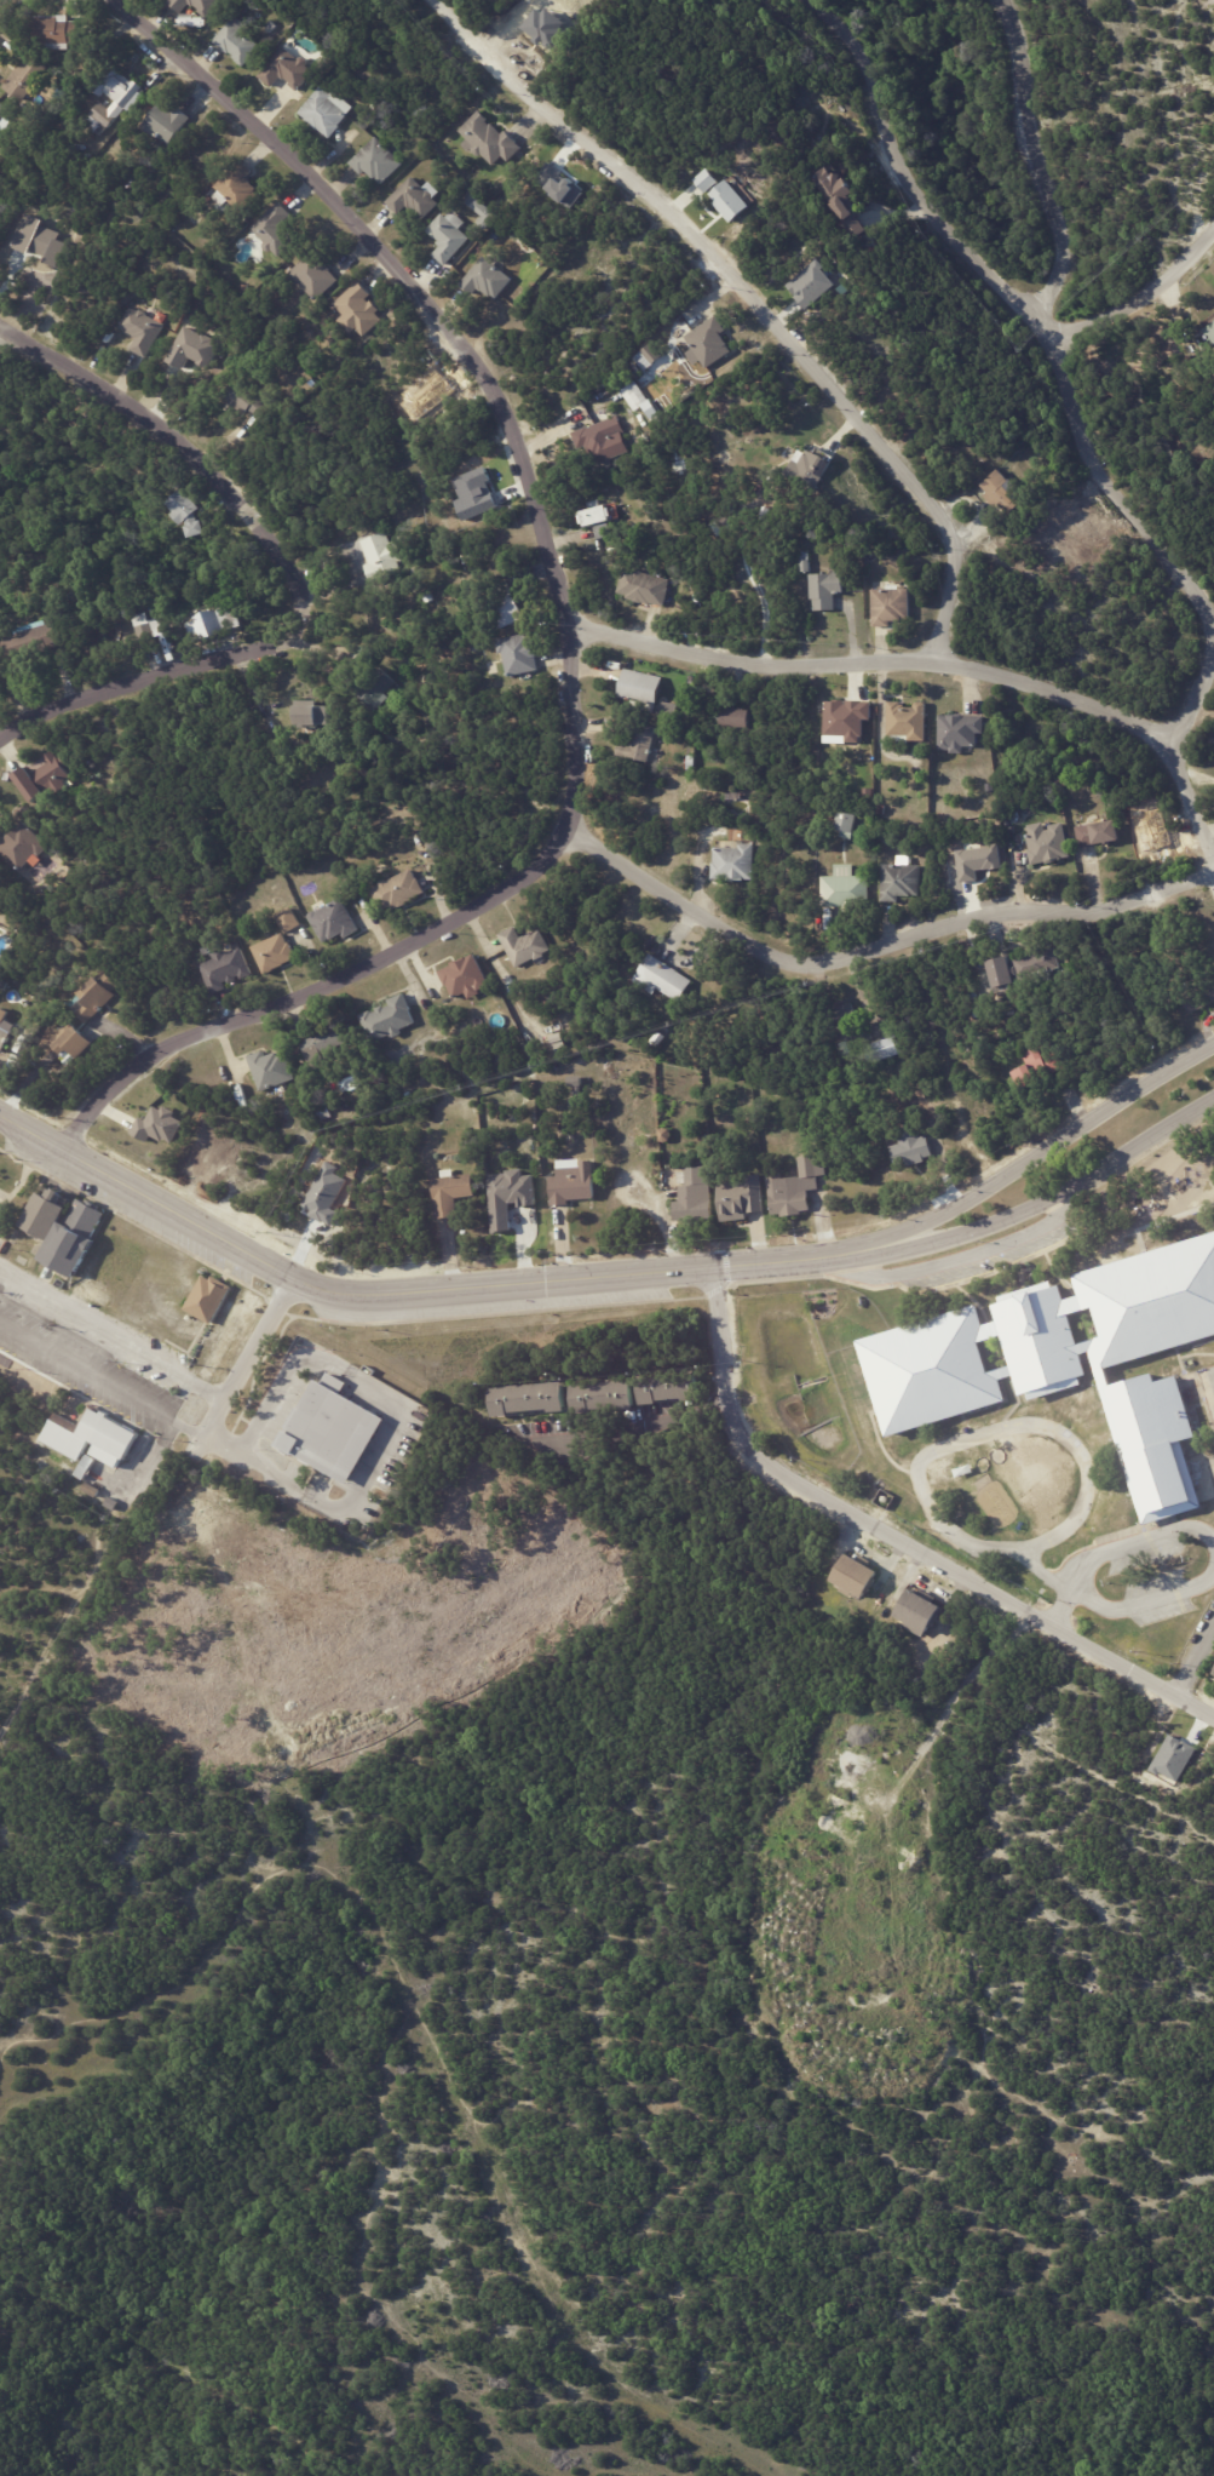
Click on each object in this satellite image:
building: (199, 5)
road: (4, 6)
building: (274, 25)
building: (62, 31)
building: (241, 42)
building: (290, 69)
building: (30, 76)
building: (71, 84)
building: (132, 101)
building: (827, 105)
building: (332, 111)
building: (4, 115)
building: (171, 122)
building: (493, 139)
building: (381, 161)
building: (706, 179)
road: (910, 179)
building: (240, 187)
building: (420, 197)
building: (838, 197)
building: (727, 200)
building: (485, 210)
building: (2, 217)
building: (280, 230)
building: (453, 236)
building: (39, 240)
building: (317, 276)
building: (493, 279)
building: (810, 283)
building: (248, 288)
road: (1137, 296)
road: (755, 304)
building: (357, 309)
building: (142, 329)
building: (1210, 331)
building: (706, 343)
road: (11, 344)
building: (191, 348)
building: (646, 357)
building: (1213, 378)
road: (1064, 386)
building: (638, 397)
building: (249, 399)
building: (620, 432)
building: (748, 441)
building: (594, 442)
building: (806, 469)
building: (999, 489)
building: (473, 493)
building: (189, 515)
building: (594, 521)
building: (384, 557)
building: (806, 561)
road: (313, 568)
building: (644, 588)
building: (827, 590)
road: (761, 595)
building: (696, 598)
building: (890, 606)
building: (511, 611)
road: (568, 623)
building: (217, 625)
building: (153, 631)
building: (38, 640)
building: (520, 655)
building: (363, 657)
road: (932, 660)
building: (375, 688)
building: (640, 690)
building: (669, 710)
building: (312, 715)
building: (731, 717)
building: (844, 720)
building: (907, 721)
building: (959, 733)
building: (635, 741)
building: (689, 763)
building: (8, 778)
building: (47, 778)
building: (733, 796)
building: (845, 825)
building: (1095, 835)
building: (1019, 841)
building: (1046, 844)
building: (27, 848)
building: (976, 861)
building: (731, 864)
building: (898, 881)
building: (844, 889)
building: (403, 893)
building: (293, 921)
building: (336, 922)
road: (876, 945)
building: (522, 947)
building: (277, 955)
building: (1022, 969)
building: (229, 970)
building: (462, 978)
building: (661, 979)
building: (1201, 993)
building: (98, 999)
building: (386, 1020)
building: (842, 1020)
building: (6, 1037)
building: (656, 1041)
building: (79, 1042)
building: (327, 1049)
building: (882, 1050)
building: (1035, 1070)
building: (275, 1071)
building: (408, 1100)
building: (327, 1113)
building: (157, 1124)
building: (663, 1136)
road: (1049, 1144)
building: (910, 1148)
road: (156, 1185)
building: (569, 1188)
building: (795, 1188)
road: (1057, 1188)
building: (451, 1194)
building: (507, 1196)
building: (737, 1198)
building: (692, 1199)
building: (70, 1234)
road: (965, 1257)
road: (596, 1268)
building: (211, 1301)
road: (267, 1334)
road: (114, 1342)
building: (1068, 1360)
road: (102, 1380)
building: (663, 1383)
building: (599, 1393)
road: (272, 1394)
building: (523, 1394)
road: (634, 1427)
building: (327, 1429)
road: (1008, 1429)
building: (92, 1434)
building: (85, 1466)
building: (94, 1489)
road: (350, 1506)
building: (346, 1524)
road: (898, 1535)
road: (1213, 1557)
building: (855, 1575)
building: (916, 1611)
road: (1197, 1663)
building: (1213, 1672)

